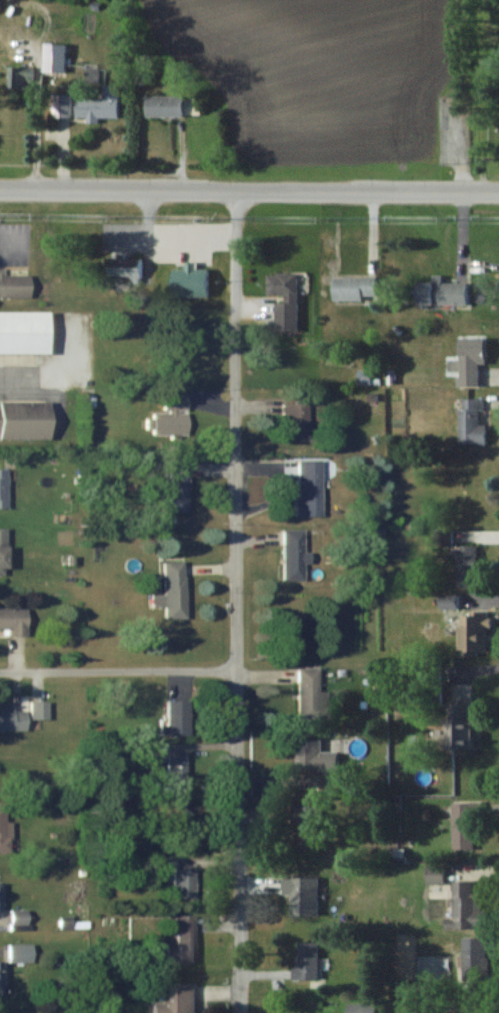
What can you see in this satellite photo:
building: (54, 58)
building: (20, 76)
building: (99, 104)
building: (60, 105)
building: (163, 106)
building: (191, 106)
road: (249, 191)
building: (123, 266)
building: (13, 286)
building: (353, 288)
building: (439, 293)
building: (281, 302)
building: (24, 334)
building: (467, 362)
building: (169, 417)
building: (21, 420)
building: (296, 421)
building: (471, 421)
building: (2, 488)
building: (309, 488)
building: (175, 490)
building: (1, 551)
building: (293, 555)
building: (465, 566)
building: (171, 592)
road: (239, 601)
building: (447, 601)
building: (12, 621)
building: (470, 635)
road: (120, 672)
building: (308, 693)
building: (37, 710)
building: (175, 717)
building: (11, 719)
building: (456, 726)
building: (314, 753)
building: (174, 772)
building: (463, 826)
building: (306, 827)
building: (4, 831)
building: (178, 879)
building: (1, 900)
building: (464, 907)
building: (181, 942)
building: (18, 953)
building: (474, 957)
building: (306, 961)
building: (0, 978)
building: (177, 1000)

